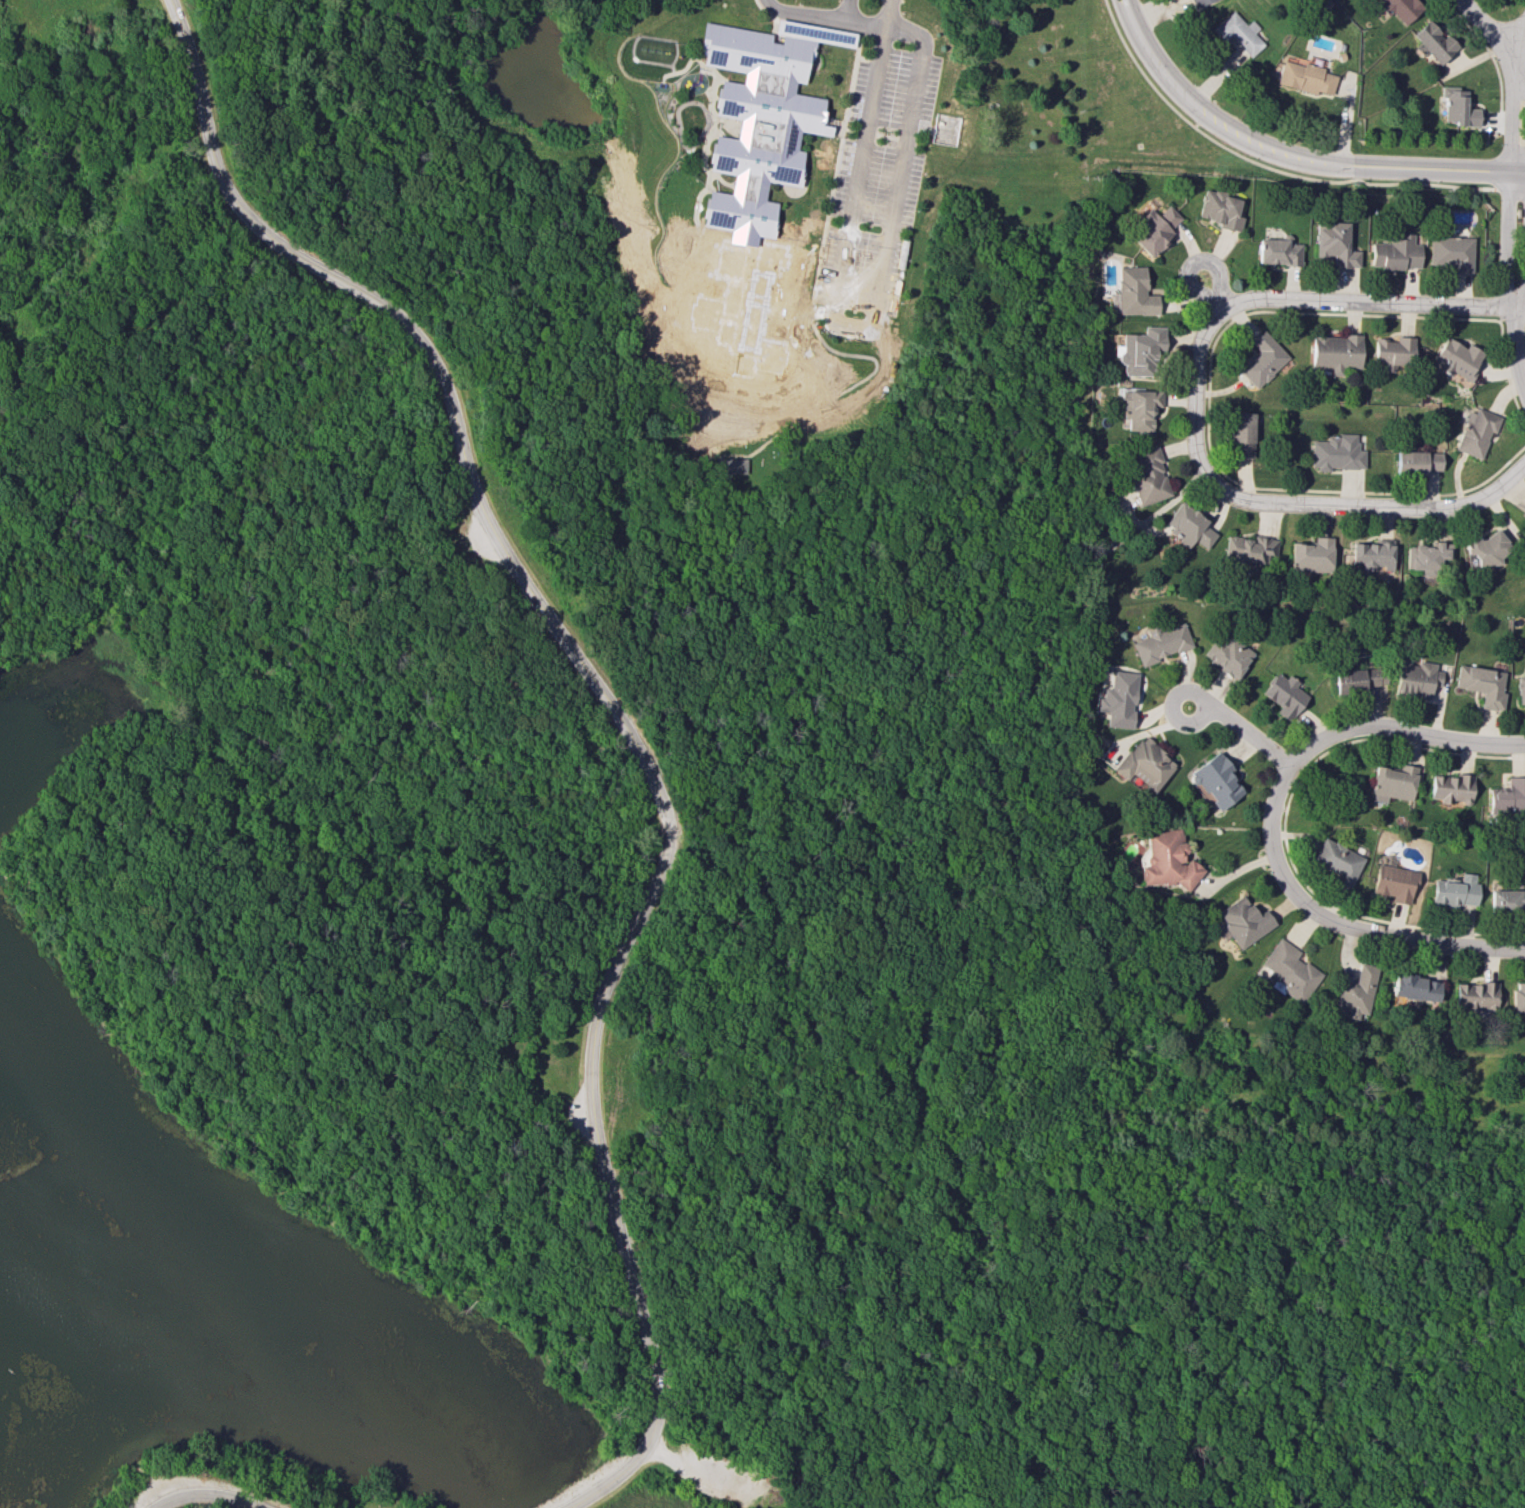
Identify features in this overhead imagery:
building: (1198, 2)
building: (1401, 8)
road: (843, 9)
road: (887, 12)
road: (824, 16)
road: (1484, 24)
building: (1239, 35)
road: (1519, 35)
building: (1434, 42)
road: (705, 66)
road: (682, 68)
building: (1305, 77)
building: (1458, 107)
building: (761, 117)
road: (832, 124)
road: (1287, 158)
road: (707, 172)
road: (1511, 172)
building: (1220, 209)
building: (1155, 230)
building: (1336, 245)
road: (788, 248)
building: (1278, 250)
building: (1452, 252)
building: (1396, 253)
road: (1192, 265)
building: (1132, 292)
road: (1318, 299)
road: (1515, 308)
road: (810, 309)
road: (866, 324)
road: (1516, 350)
building: (1140, 351)
building: (1335, 352)
building: (1394, 352)
building: (1457, 358)
building: (1262, 359)
building: (1139, 409)
building: (1476, 431)
building: (1241, 434)
building: (1336, 452)
building: (1416, 461)
building: (729, 465)
building: (1147, 476)
road: (1322, 505)
building: (1188, 526)
parking lot: (487, 534)
building: (1249, 549)
building: (1483, 549)
building: (1312, 555)
building: (1372, 555)
building: (1427, 557)
building: (1161, 642)
building: (1228, 656)
road: (593, 672)
building: (1417, 678)
building: (1356, 680)
building: (1482, 684)
building: (1521, 689)
building: (1284, 695)
building: (1117, 699)
road: (1205, 703)
building: (1145, 763)
building: (1217, 780)
building: (1393, 782)
building: (1451, 788)
building: (1508, 796)
road: (1270, 828)
building: (1167, 860)
building: (1337, 860)
building: (1395, 882)
building: (1455, 891)
building: (1507, 898)
park: (591, 901)
building: (1244, 921)
road: (791, 928)
park: (889, 932)
building: (1415, 987)
building: (1357, 993)
building: (1476, 995)
building: (1518, 997)
parking lot: (583, 1109)
parking lot: (717, 1474)
road: (210, 1481)
road: (610, 1484)
road: (832, 1486)
road: (1084, 1488)
park: (204, 1500)

